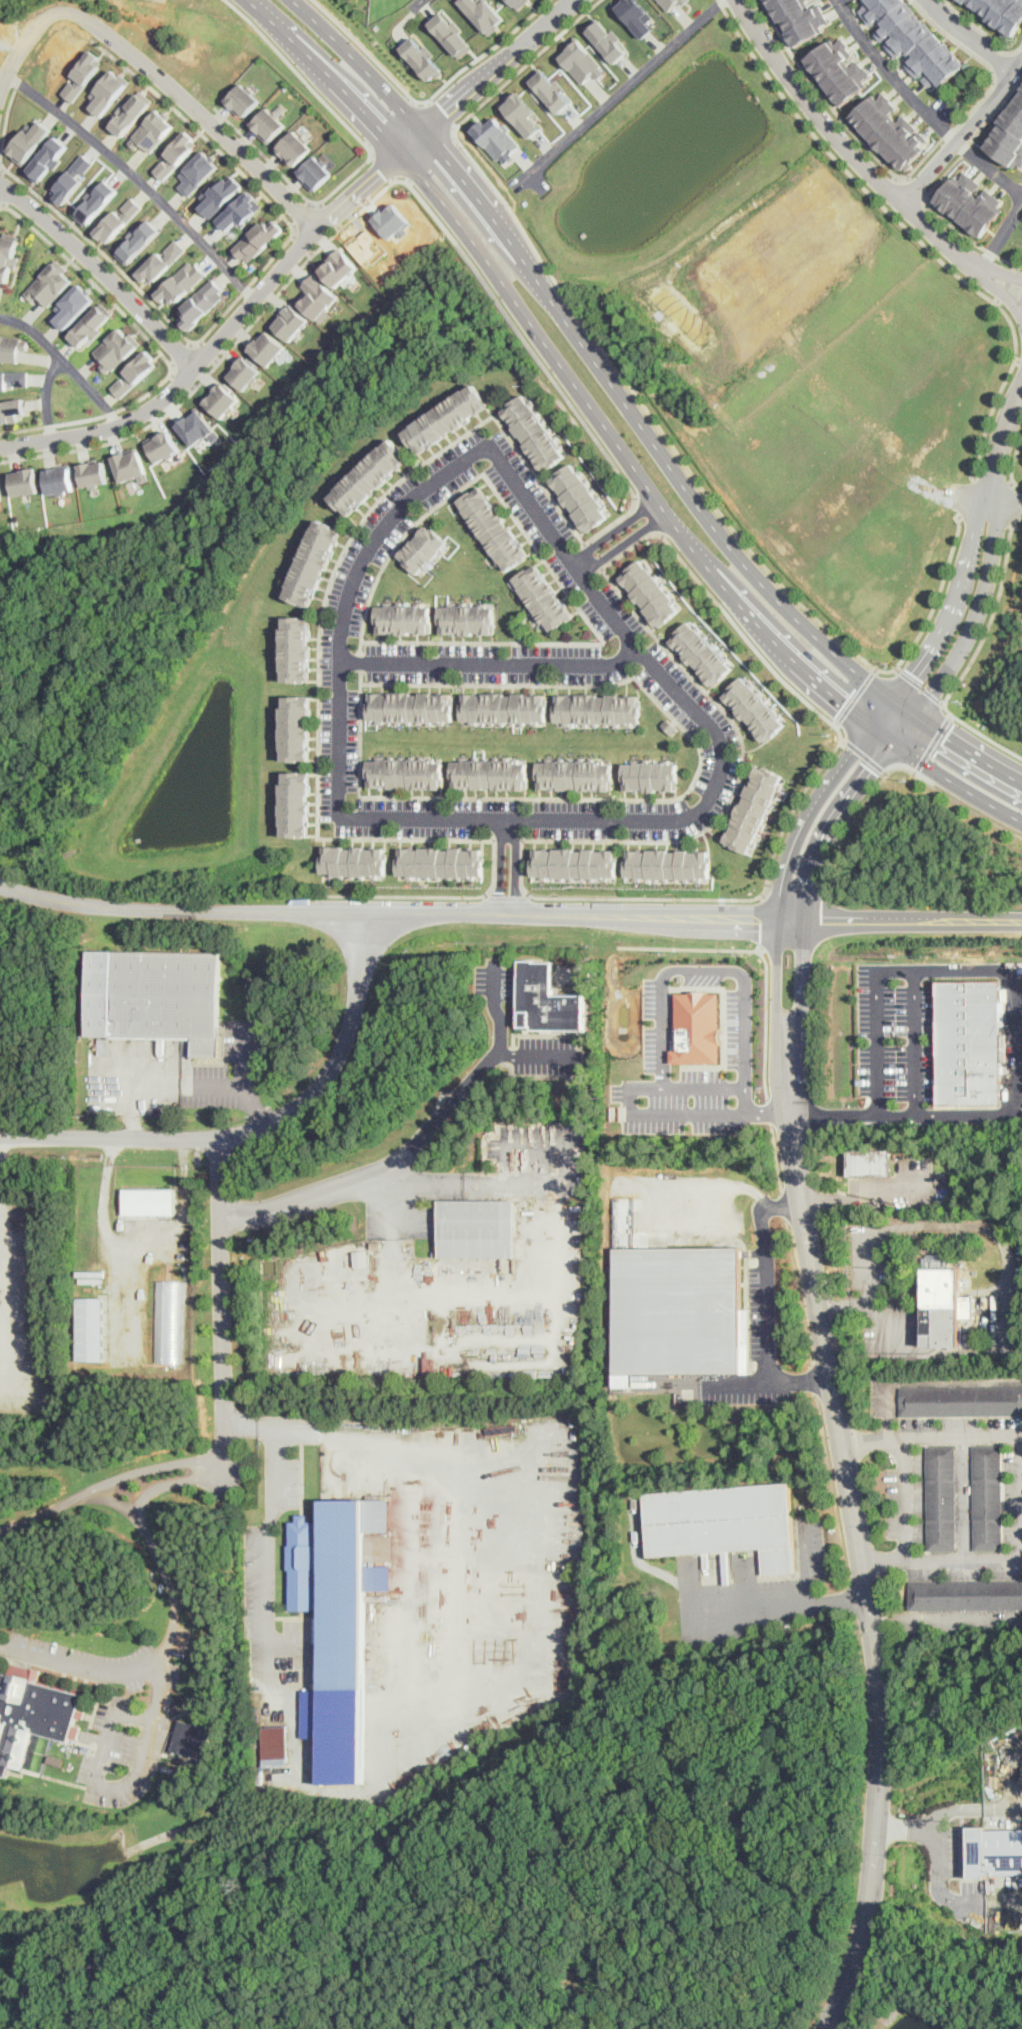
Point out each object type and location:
building: (686, 1)
building: (516, 2)
building: (671, 3)
road: (266, 6)
building: (485, 12)
building: (1000, 13)
road: (405, 15)
building: (637, 16)
building: (801, 19)
road: (16, 21)
building: (451, 33)
road: (969, 36)
building: (912, 39)
road: (26, 40)
building: (608, 40)
building: (422, 57)
building: (582, 61)
road: (363, 65)
road: (500, 65)
building: (840, 67)
building: (82, 74)
road: (893, 74)
road: (343, 79)
road: (988, 88)
building: (551, 90)
building: (106, 92)
road: (621, 92)
road: (824, 96)
building: (243, 99)
road: (430, 101)
building: (960, 104)
road: (191, 110)
building: (131, 111)
building: (523, 113)
road: (443, 116)
building: (268, 123)
building: (892, 129)
building: (151, 131)
road: (963, 132)
building: (1008, 133)
building: (497, 137)
building: (27, 140)
road: (846, 146)
building: (295, 148)
building: (176, 153)
road: (372, 156)
building: (46, 158)
road: (989, 167)
road: (384, 169)
building: (198, 171)
building: (315, 173)
building: (72, 177)
road: (136, 178)
road: (935, 182)
road: (0, 185)
road: (915, 190)
building: (222, 197)
building: (95, 202)
building: (967, 206)
building: (244, 208)
road: (306, 215)
road: (329, 216)
building: (117, 220)
road: (499, 223)
road: (910, 232)
road: (1001, 233)
building: (258, 239)
building: (137, 240)
building: (8, 254)
building: (161, 262)
building: (339, 267)
road: (102, 272)
road: (1000, 272)
building: (49, 283)
building: (181, 283)
road: (1007, 284)
road: (1000, 289)
building: (319, 296)
building: (203, 302)
building: (73, 305)
road: (224, 314)
building: (292, 320)
building: (92, 323)
road: (232, 323)
road: (535, 327)
building: (11, 347)
building: (116, 348)
building: (268, 348)
road: (158, 349)
road: (210, 351)
road: (184, 357)
road: (540, 359)
road: (1019, 360)
road: (66, 363)
building: (135, 372)
building: (244, 372)
building: (12, 377)
road: (205, 379)
road: (1020, 386)
road: (1020, 393)
road: (49, 397)
building: (222, 400)
road: (626, 403)
building: (10, 408)
road: (649, 413)
building: (447, 417)
building: (198, 427)
building: (536, 431)
building: (165, 445)
road: (1001, 448)
road: (1014, 458)
building: (130, 464)
building: (93, 473)
building: (374, 477)
building: (59, 479)
building: (24, 481)
building: (0, 495)
building: (581, 495)
road: (968, 497)
road: (1010, 506)
road: (647, 518)
building: (494, 527)
road: (616, 538)
building: (425, 549)
building: (312, 561)
building: (650, 591)
road: (324, 597)
building: (543, 599)
road: (779, 601)
road: (950, 606)
road: (726, 613)
road: (975, 615)
building: (405, 618)
building: (467, 618)
road: (757, 623)
building: (293, 647)
building: (701, 653)
road: (970, 661)
road: (490, 662)
traffic signals: (911, 673)
road: (918, 686)
road: (854, 696)
traffic signals: (843, 704)
road: (901, 706)
building: (410, 707)
building: (505, 707)
building: (597, 709)
building: (755, 709)
road: (698, 716)
building: (670, 725)
building: (296, 728)
traffic signals: (943, 736)
road: (930, 742)
road: (966, 751)
road: (864, 756)
traffic signals: (871, 770)
building: (404, 771)
building: (488, 773)
building: (573, 773)
building: (650, 777)
road: (943, 777)
road: (953, 799)
road: (816, 802)
building: (293, 803)
building: (755, 807)
road: (842, 810)
road: (844, 835)
building: (355, 861)
building: (573, 863)
building: (440, 864)
building: (670, 865)
road: (508, 866)
road: (432, 895)
road: (507, 895)
road: (705, 899)
road: (386, 915)
road: (763, 919)
road: (898, 921)
road: (759, 947)
road: (762, 954)
road: (802, 982)
road: (775, 983)
building: (155, 996)
building: (546, 999)
building: (697, 1028)
road: (661, 1033)
road: (876, 1040)
road: (914, 1040)
road: (500, 1042)
building: (968, 1043)
building: (105, 1045)
road: (243, 1055)
road: (161, 1084)
road: (1018, 1084)
road: (703, 1086)
road: (255, 1105)
road: (768, 1112)
road: (441, 1114)
road: (256, 1126)
road: (538, 1146)
road: (776, 1158)
building: (868, 1163)
road: (345, 1190)
road: (864, 1196)
building: (149, 1202)
building: (535, 1204)
road: (784, 1205)
building: (477, 1229)
road: (141, 1242)
building: (376, 1244)
building: (436, 1252)
road: (1007, 1256)
building: (361, 1257)
building: (937, 1261)
road: (799, 1291)
road: (136, 1293)
road: (863, 1300)
building: (944, 1308)
building: (676, 1309)
road: (765, 1309)
building: (91, 1328)
building: (1017, 1330)
road: (222, 1337)
road: (831, 1370)
road: (814, 1380)
road: (930, 1381)
road: (735, 1382)
building: (961, 1401)
road: (933, 1433)
road: (832, 1489)
road: (905, 1496)
road: (966, 1496)
road: (145, 1497)
building: (942, 1498)
building: (988, 1498)
building: (724, 1521)
road: (944, 1559)
road: (807, 1562)
building: (300, 1564)
building: (344, 1592)
building: (966, 1595)
road: (850, 1597)
road: (777, 1607)
road: (941, 1617)
road: (856, 1627)
road: (444, 1699)
building: (189, 1712)
building: (29, 1717)
building: (195, 1741)
building: (277, 1745)
road: (880, 1753)
building: (994, 1851)
road: (940, 1857)
road: (867, 1922)

